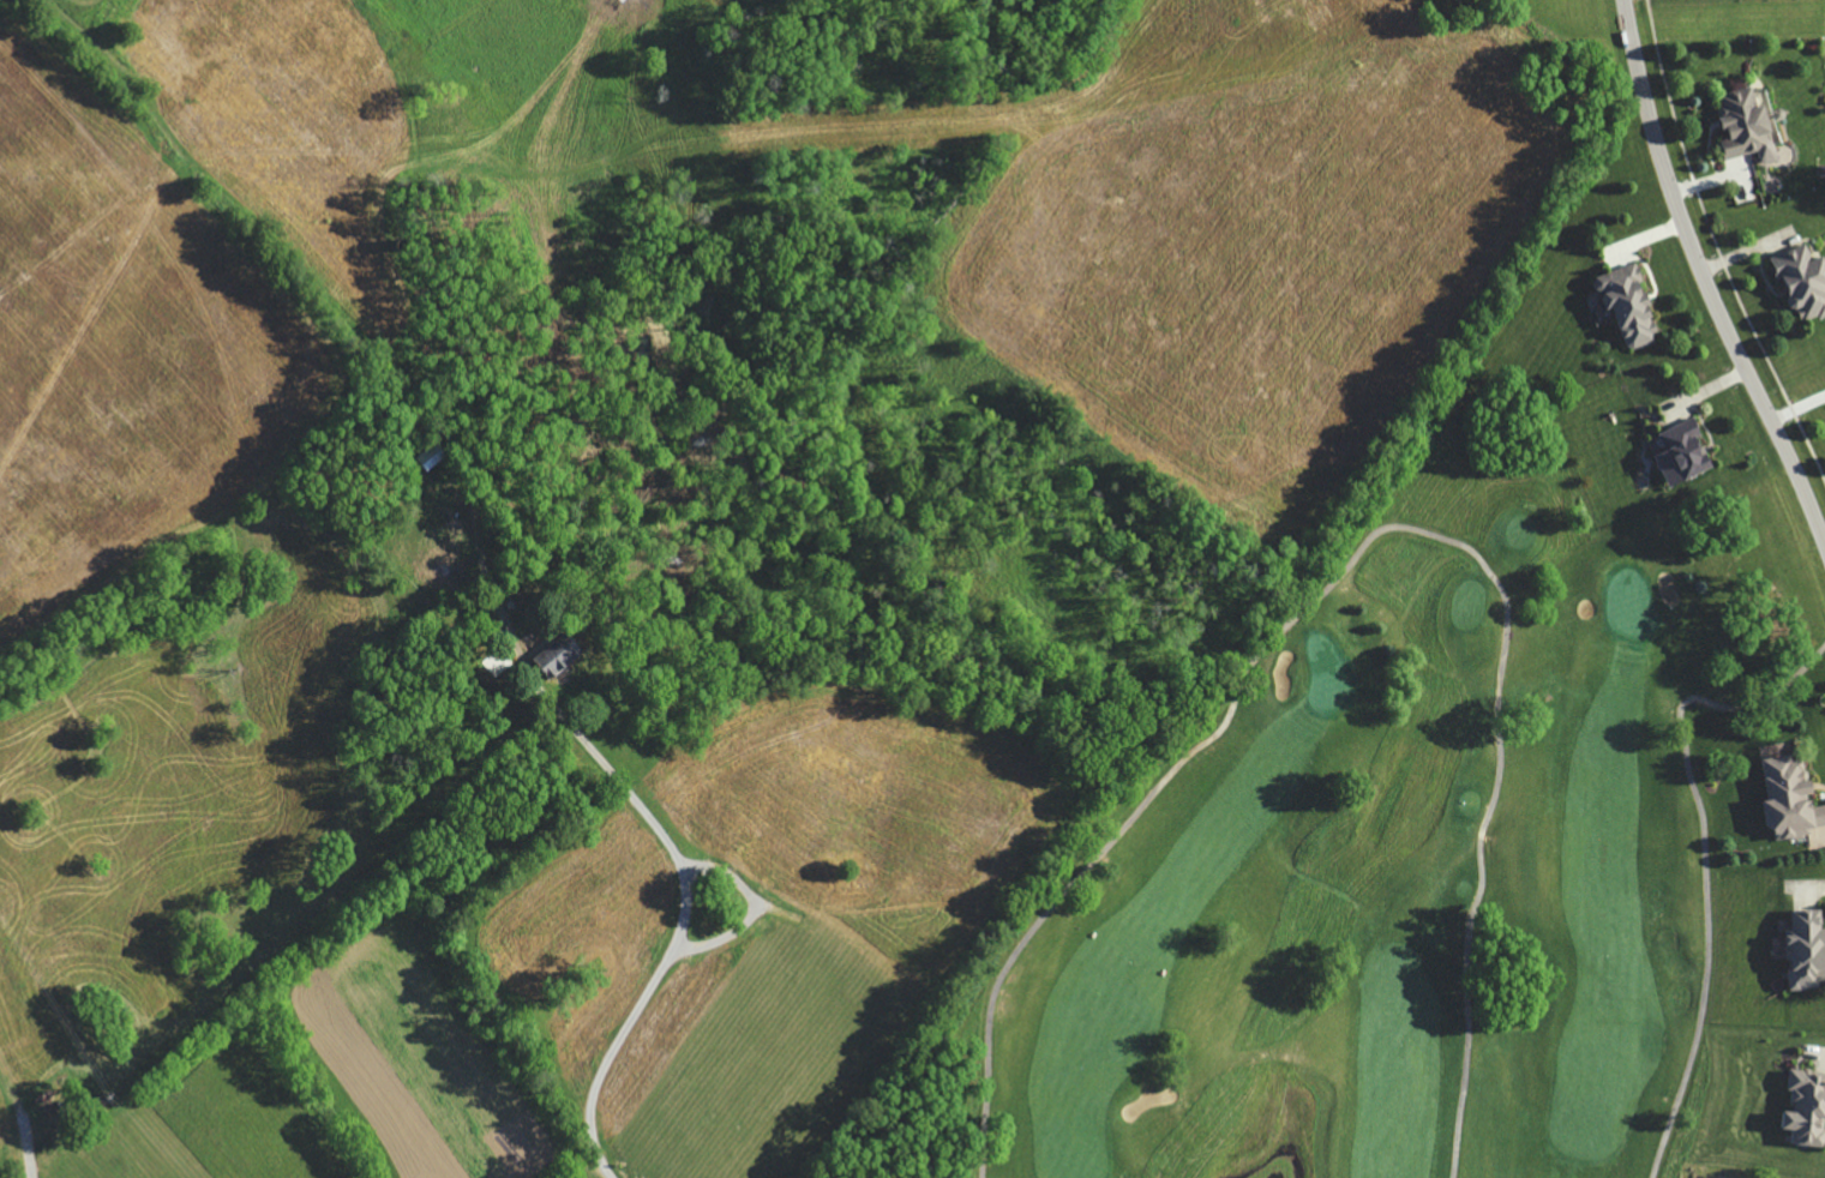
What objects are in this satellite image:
building: (1753, 127)
road: (1704, 277)
building: (1806, 282)
building: (1637, 303)
building: (1689, 453)
road: (415, 510)
building: (565, 655)
road: (679, 861)
park: (1401, 865)
building: (1809, 951)
building: (1811, 1110)

